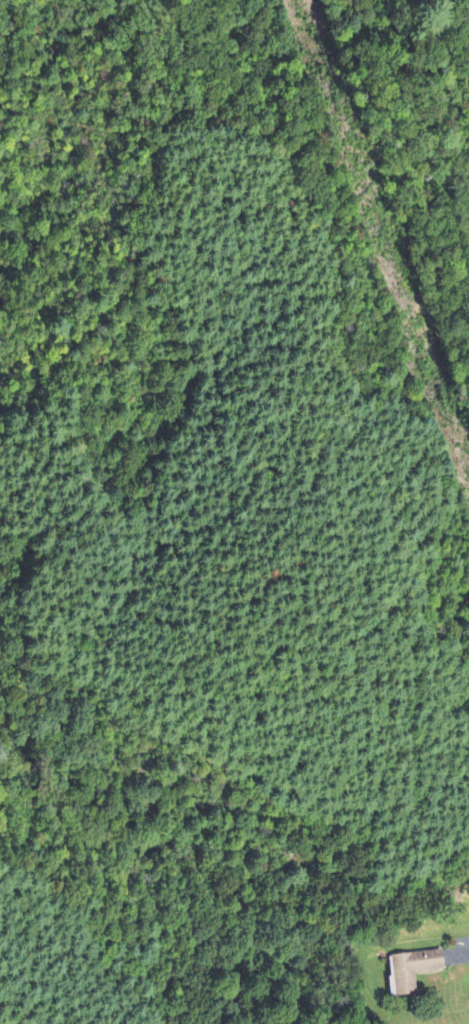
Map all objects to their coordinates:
building: (412, 972)

